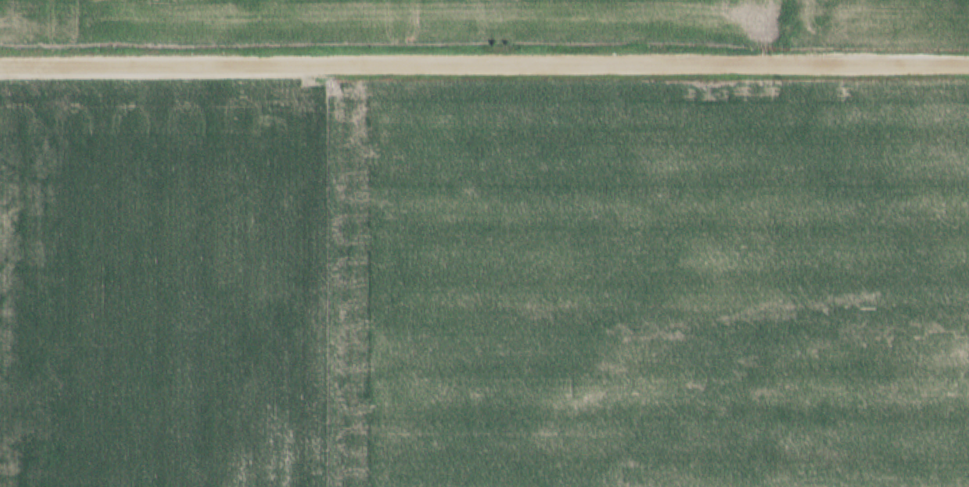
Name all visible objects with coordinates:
road: (484, 65)

